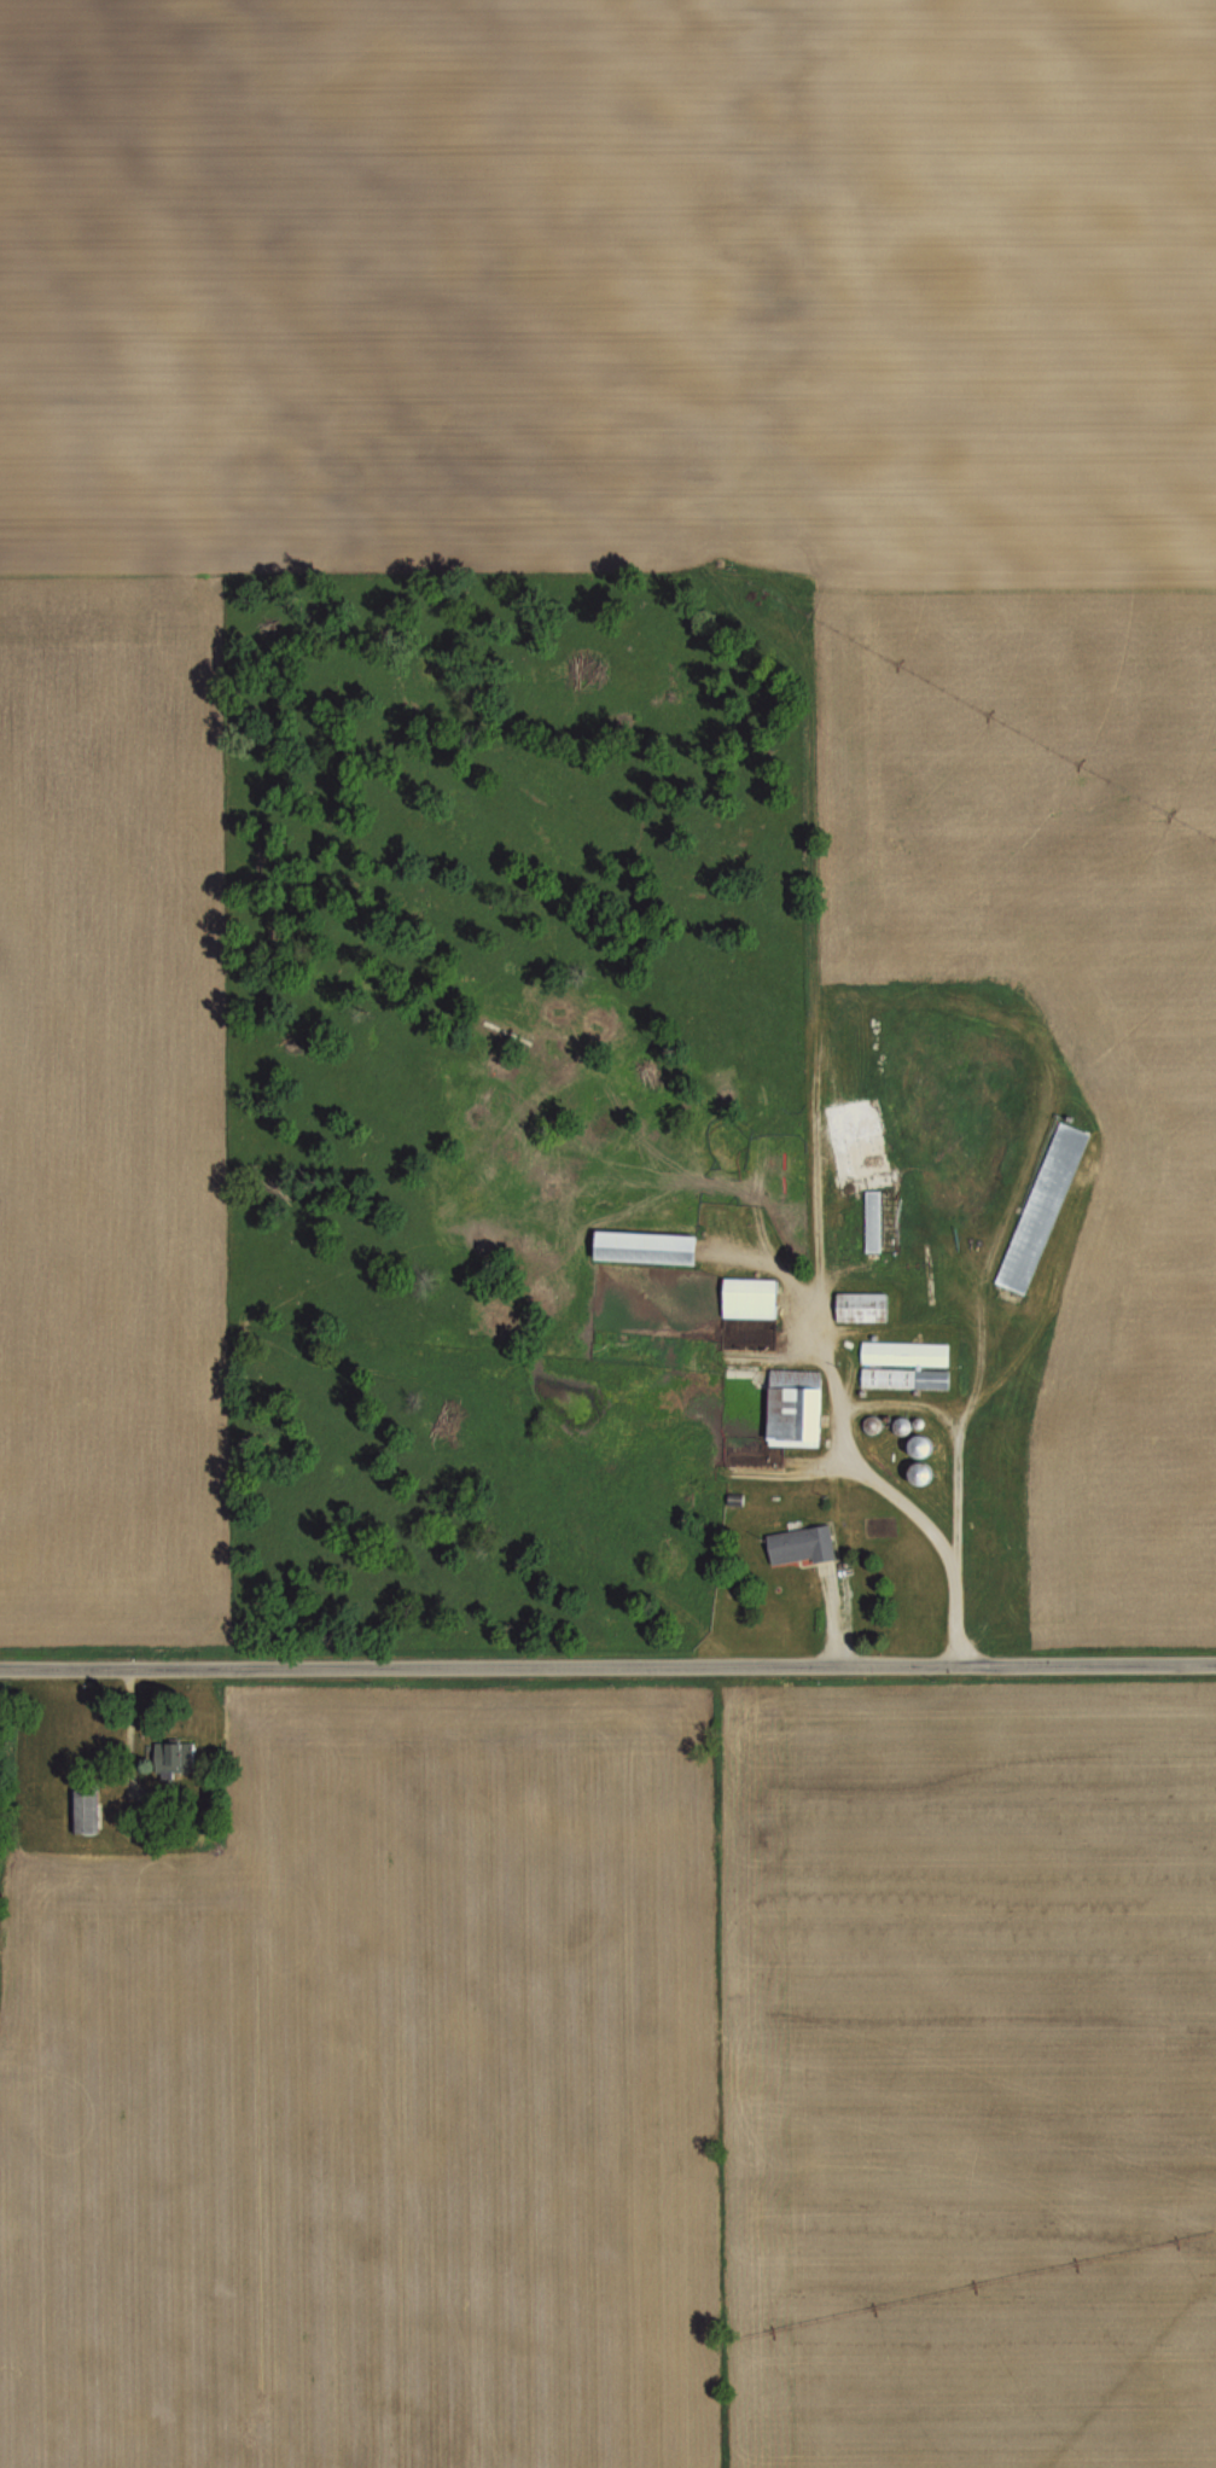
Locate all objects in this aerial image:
crop: (607, 286)
building: (1043, 1207)
building: (875, 1222)
building: (648, 1247)
building: (750, 1298)
building: (863, 1306)
road: (814, 1326)
building: (908, 1354)
building: (890, 1379)
building: (937, 1380)
building: (795, 1403)
building: (898, 1419)
building: (913, 1419)
building: (866, 1420)
building: (915, 1444)
building: (914, 1467)
building: (926, 1472)
road: (886, 1494)
building: (797, 1546)
building: (845, 1583)
road: (954, 1616)
road: (607, 1666)
building: (178, 1756)
building: (87, 1806)

